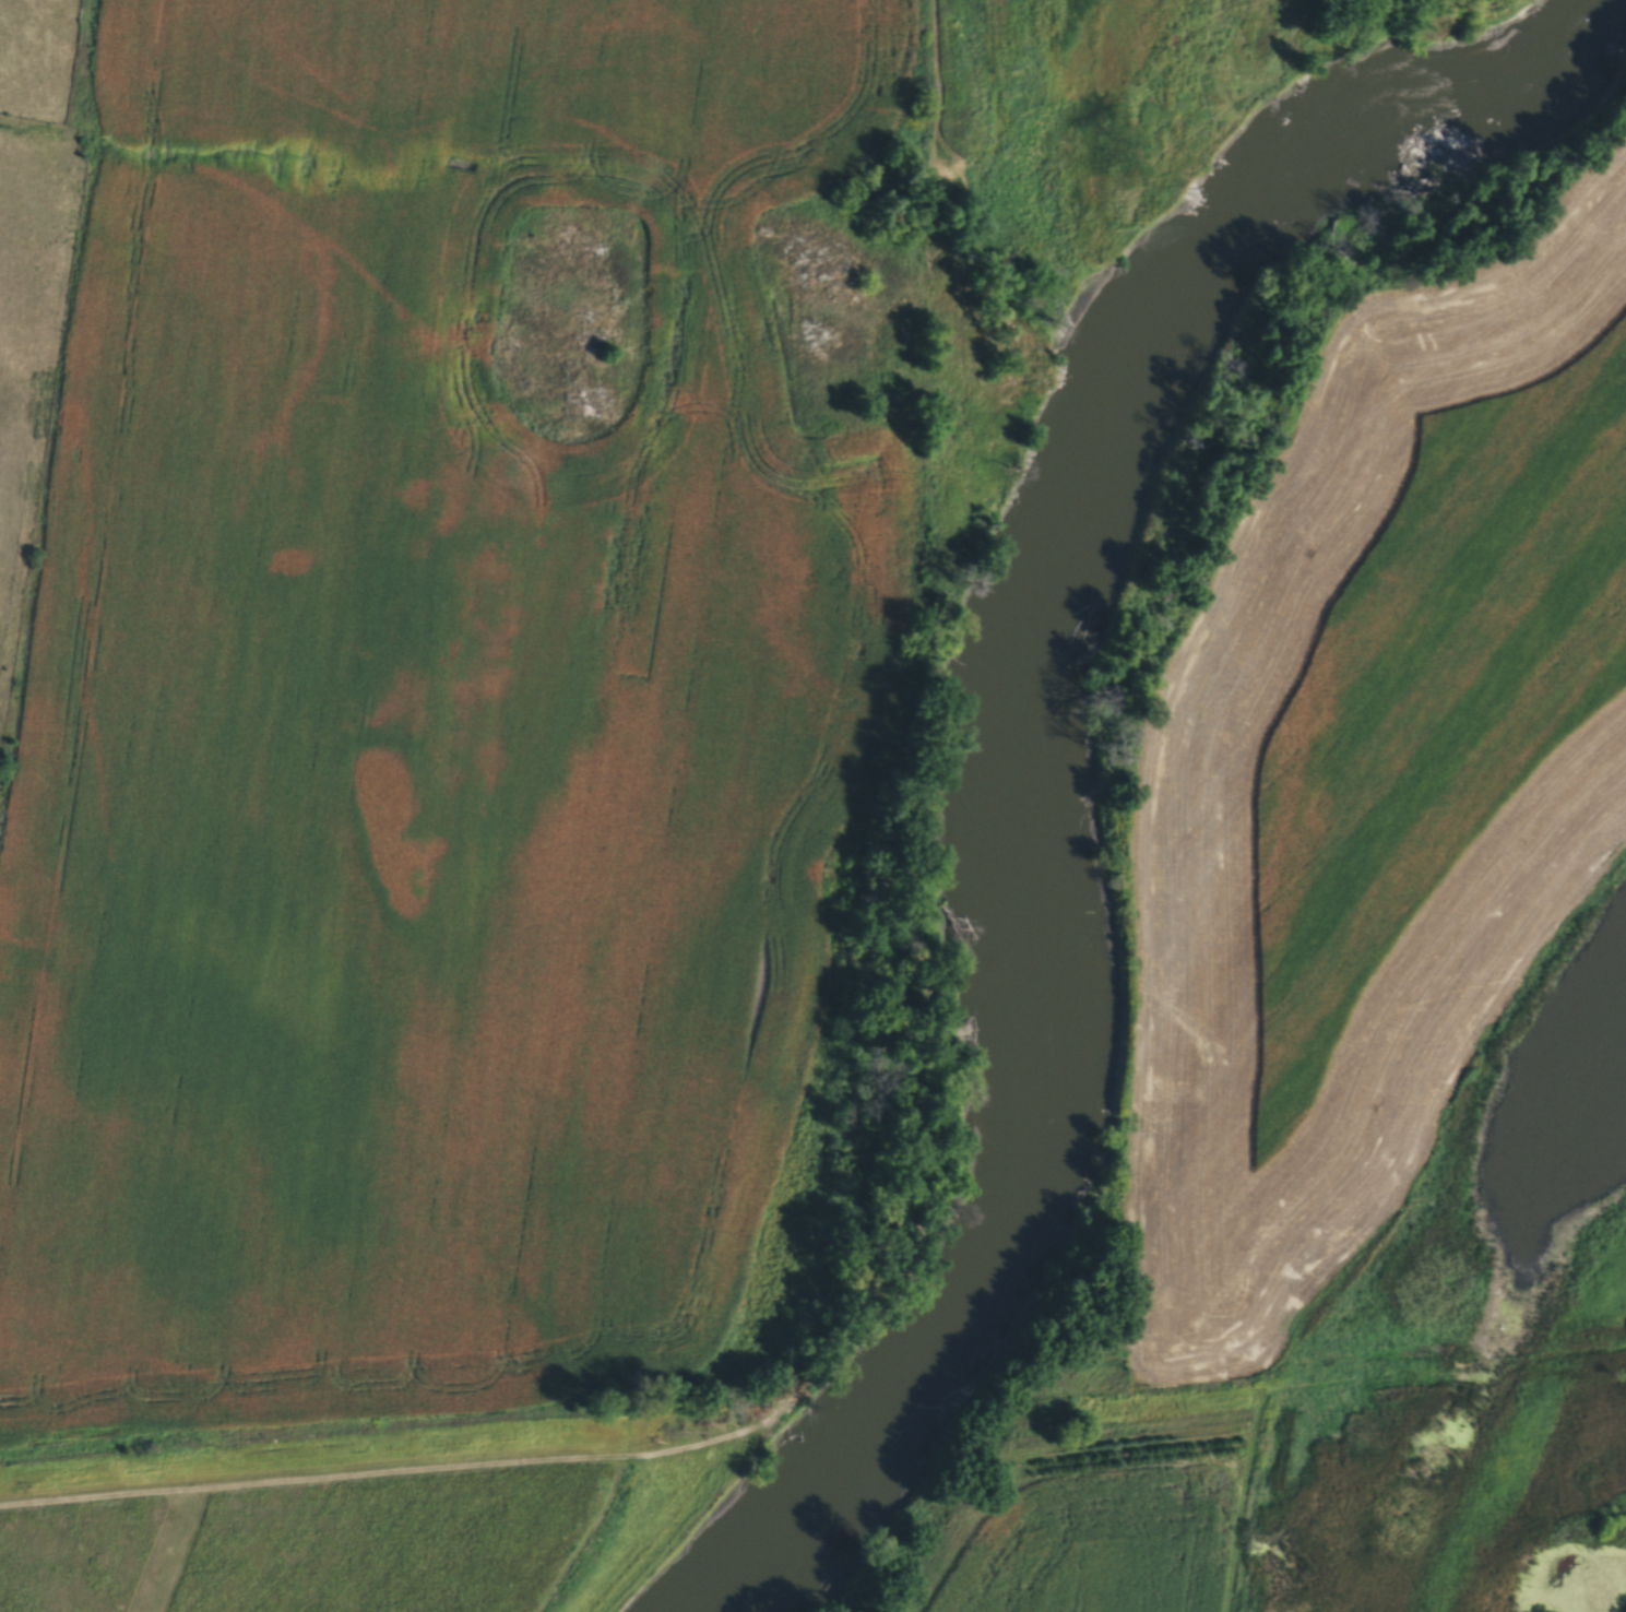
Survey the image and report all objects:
river: (1033, 723)

